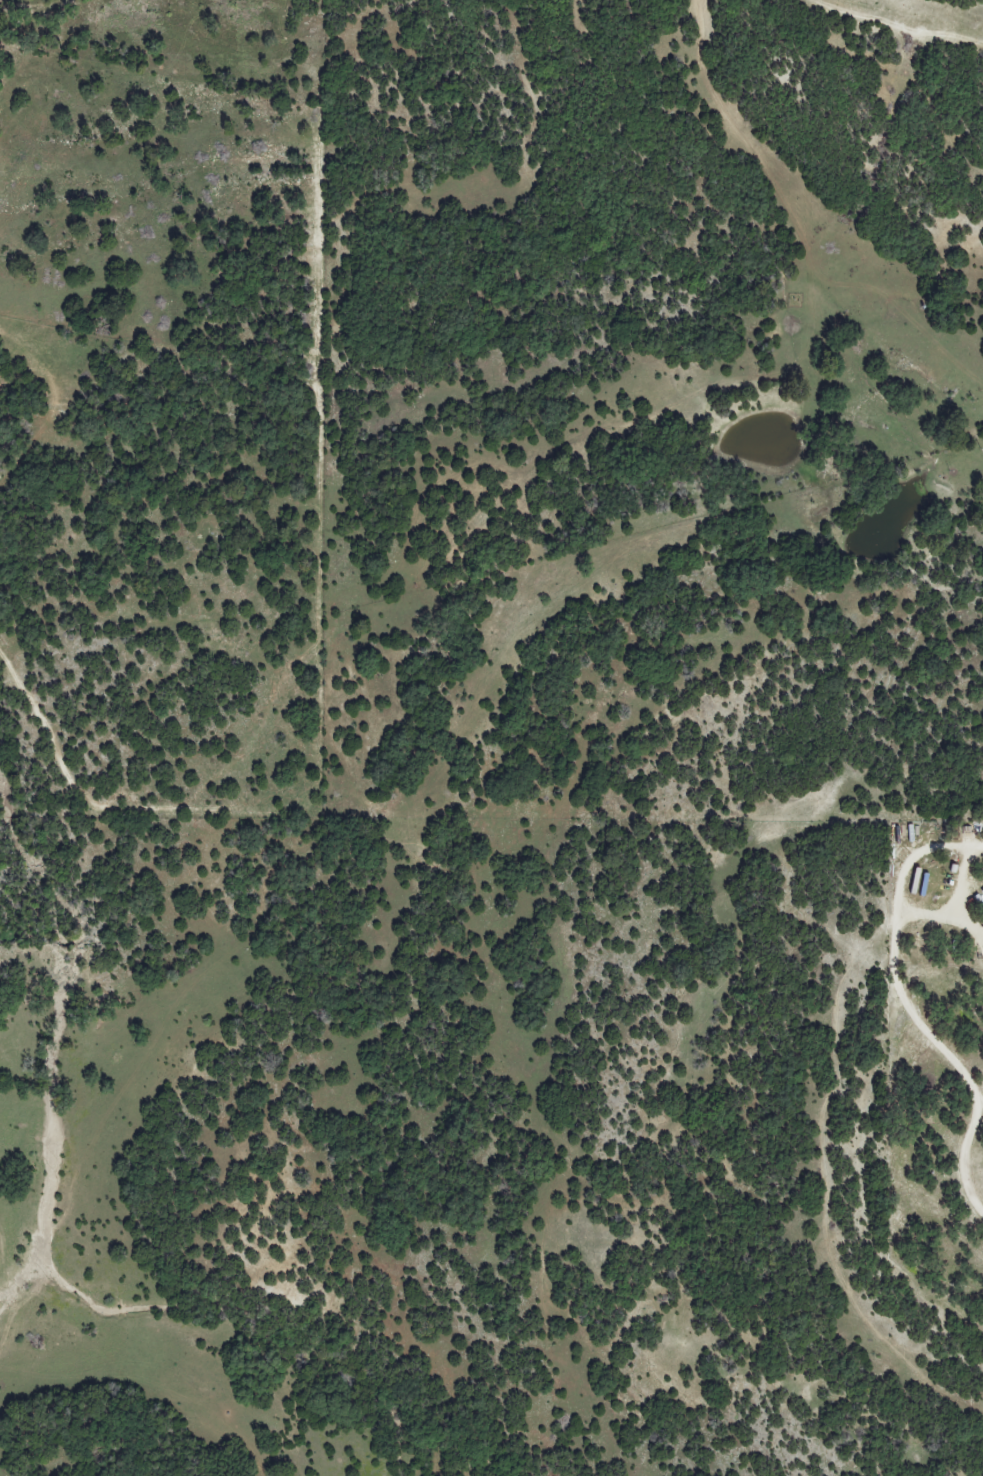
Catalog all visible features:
road: (908, 1007)

